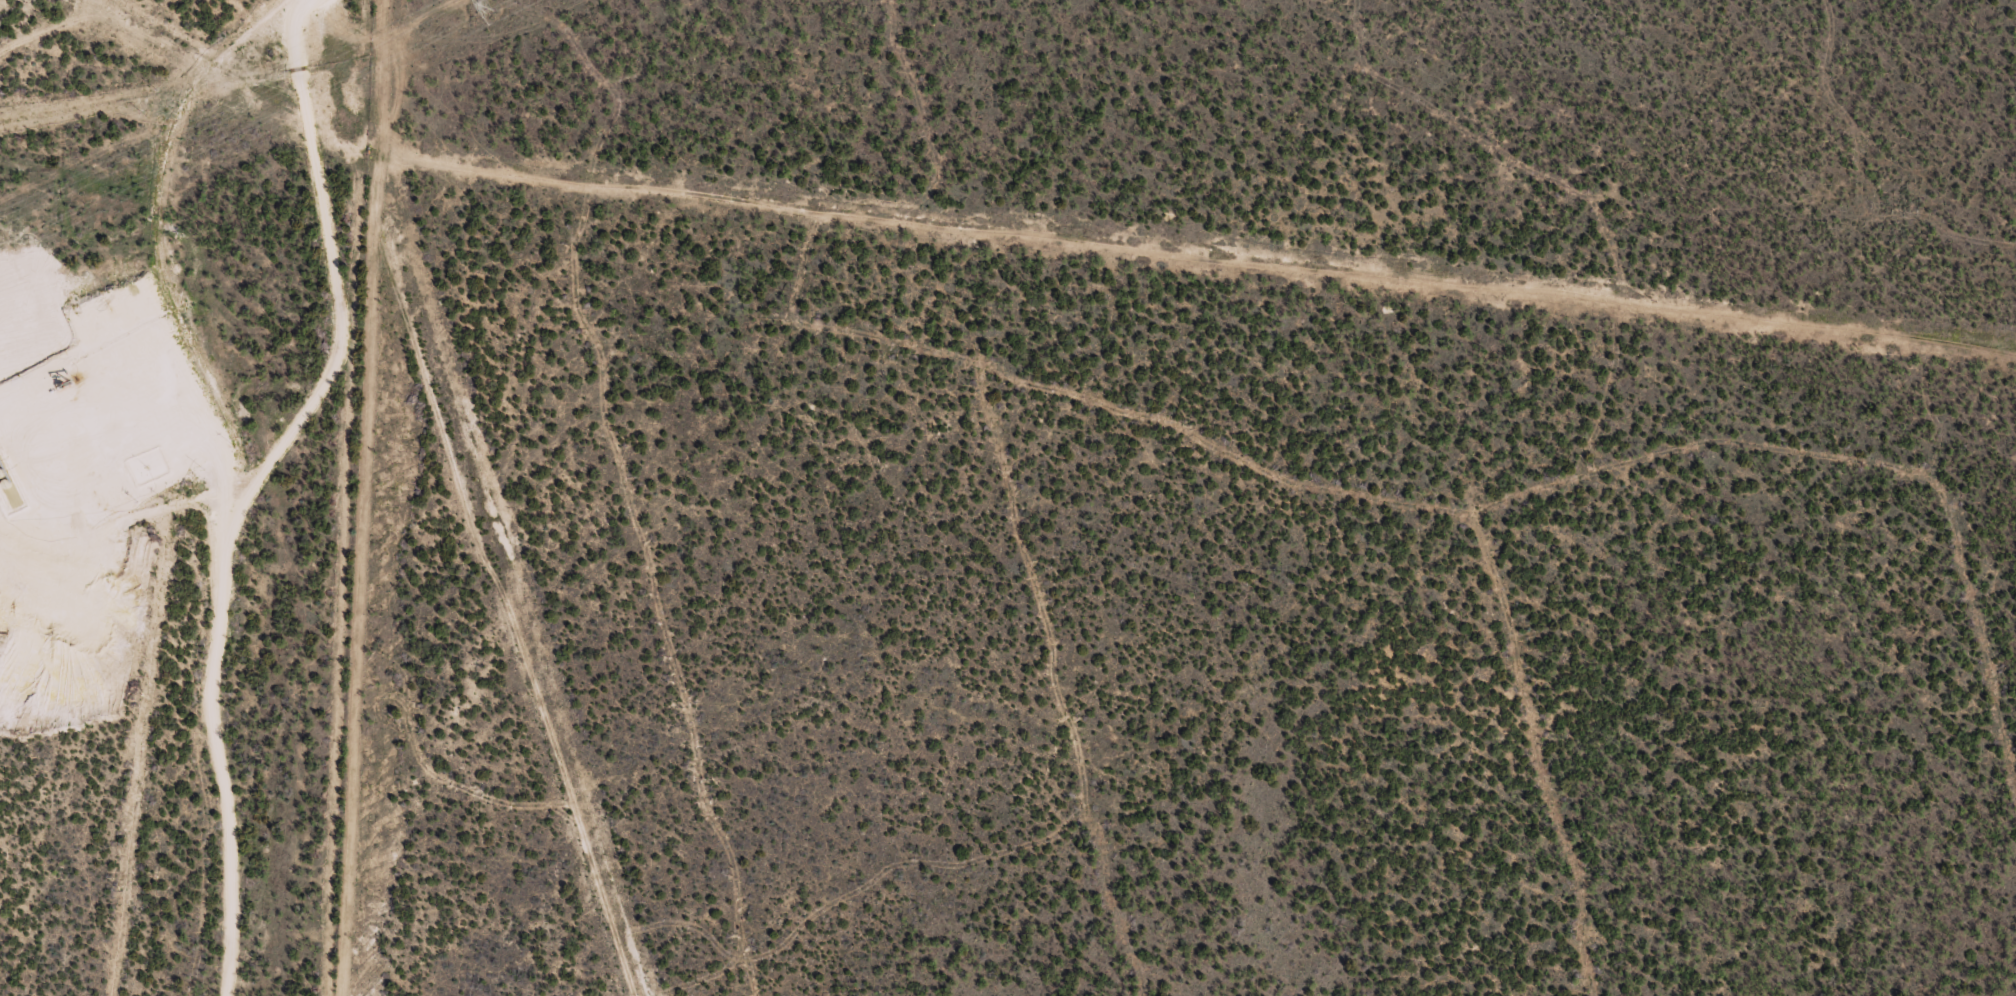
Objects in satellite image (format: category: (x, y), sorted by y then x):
power tower: (487, 5)

